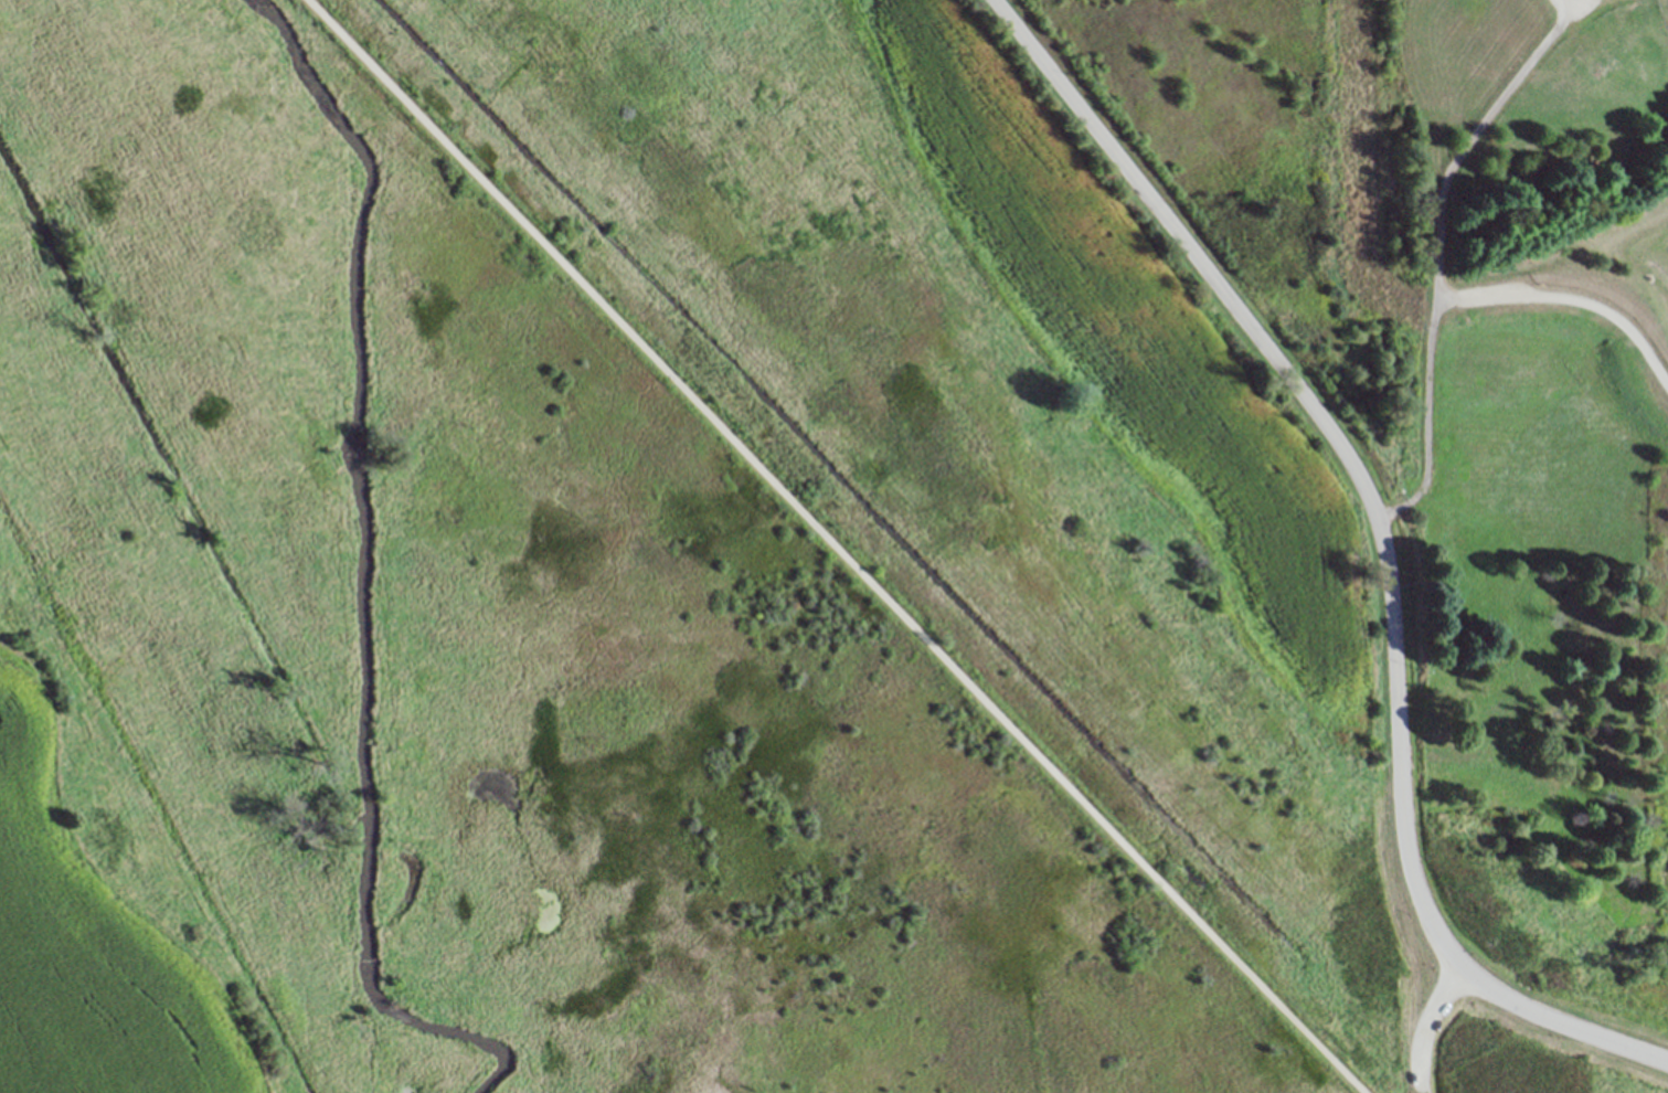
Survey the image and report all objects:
road: (1433, 251)
road: (1568, 296)
road: (1332, 442)
road: (833, 546)
building: (1524, 649)
building: (1531, 664)
building: (1497, 737)
building: (1537, 788)
crop: (103, 903)
road: (1426, 1020)
road: (1561, 1023)
parking lot: (1423, 1037)
park: (1490, 1047)
road: (1417, 1086)

